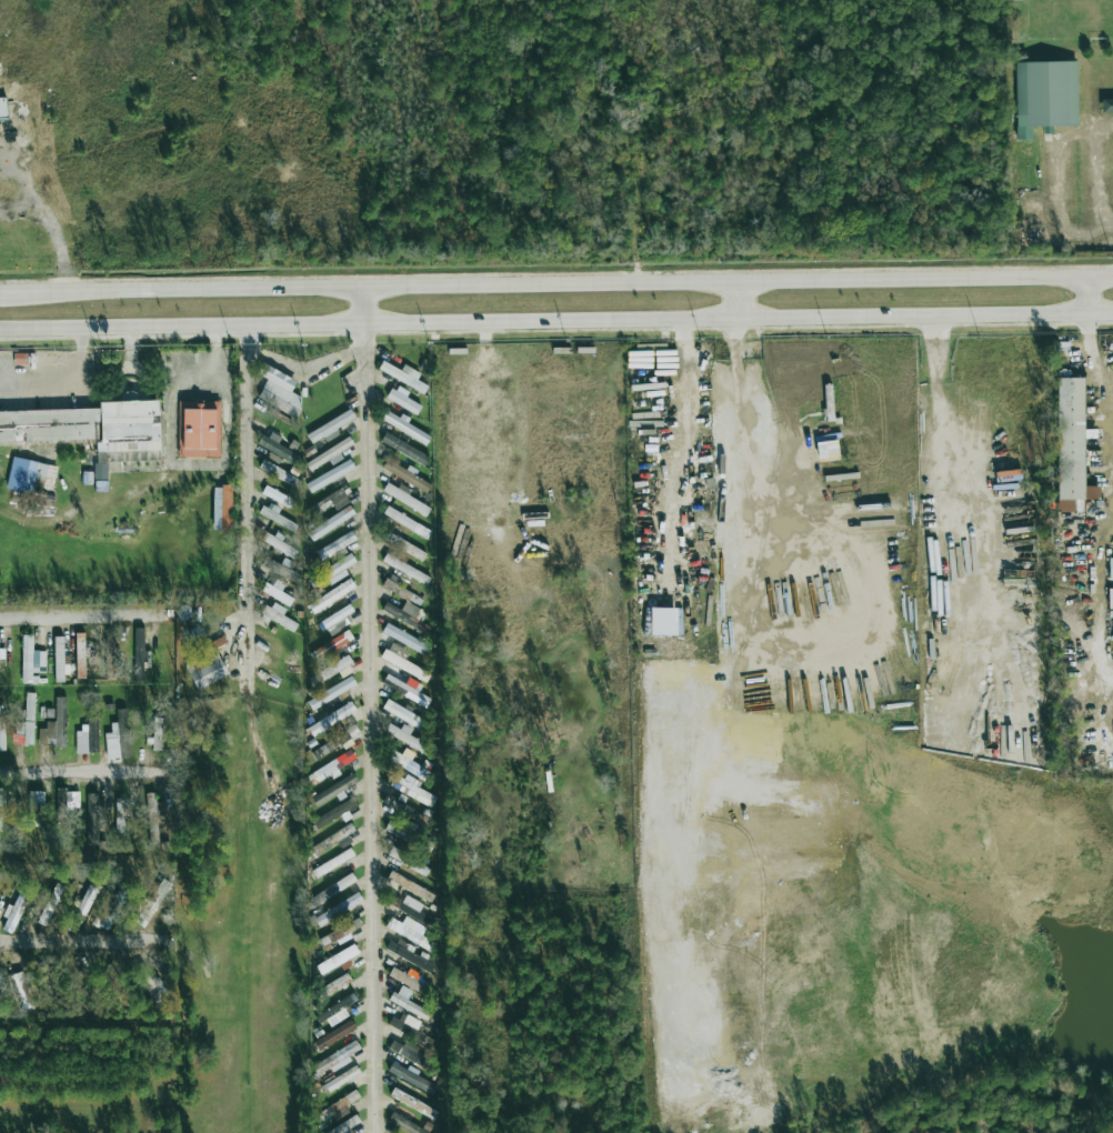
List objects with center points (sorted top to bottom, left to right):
park: (1067, 18)
building: (1047, 94)
building: (1106, 106)
building: (2, 109)
road: (1100, 181)
road: (1057, 188)
road: (563, 282)
road: (7, 290)
road: (1086, 292)
road: (734, 300)
road: (556, 322)
road: (305, 367)
building: (409, 378)
road: (1109, 380)
road: (68, 384)
building: (279, 391)
road: (1106, 397)
building: (403, 401)
building: (49, 425)
road: (741, 427)
building: (330, 428)
building: (405, 428)
building: (128, 430)
building: (200, 430)
building: (1072, 437)
building: (277, 449)
building: (404, 449)
building: (828, 451)
building: (279, 473)
building: (30, 475)
building: (329, 475)
building: (405, 475)
building: (278, 497)
building: (405, 499)
building: (332, 500)
road: (946, 505)
building: (225, 507)
road: (247, 507)
building: (275, 517)
building: (330, 522)
building: (407, 522)
building: (279, 544)
building: (335, 545)
building: (403, 545)
building: (1110, 566)
building: (405, 569)
building: (331, 572)
building: (287, 573)
building: (401, 591)
building: (277, 592)
building: (331, 596)
building: (1110, 598)
building: (405, 612)
road: (80, 616)
building: (279, 616)
building: (334, 618)
building: (405, 639)
building: (331, 645)
building: (398, 650)
building: (110, 654)
building: (138, 654)
building: (80, 655)
building: (29, 660)
building: (59, 660)
building: (404, 665)
building: (205, 666)
building: (330, 670)
building: (413, 684)
building: (331, 692)
building: (29, 706)
road: (370, 710)
building: (403, 714)
building: (331, 719)
building: (54, 726)
building: (1, 730)
building: (23, 732)
building: (157, 733)
building: (88, 736)
building: (118, 736)
building: (334, 742)
building: (408, 764)
building: (332, 766)
road: (83, 772)
building: (333, 790)
building: (412, 790)
building: (67, 800)
building: (1, 808)
building: (36, 809)
building: (333, 813)
building: (123, 814)
building: (153, 815)
building: (93, 816)
building: (333, 839)
building: (408, 862)
building: (332, 863)
building: (410, 886)
building: (152, 902)
building: (84, 903)
building: (50, 904)
building: (338, 909)
building: (13, 912)
building: (409, 931)
building: (340, 932)
road: (82, 941)
building: (408, 954)
building: (337, 960)
building: (408, 979)
building: (50, 980)
building: (2, 985)
building: (333, 985)
building: (23, 991)
building: (408, 1002)
building: (409, 1027)
building: (334, 1035)
building: (407, 1052)
building: (334, 1060)
building: (411, 1077)
building: (341, 1079)
road: (84, 1089)
building: (413, 1103)
building: (338, 1105)

